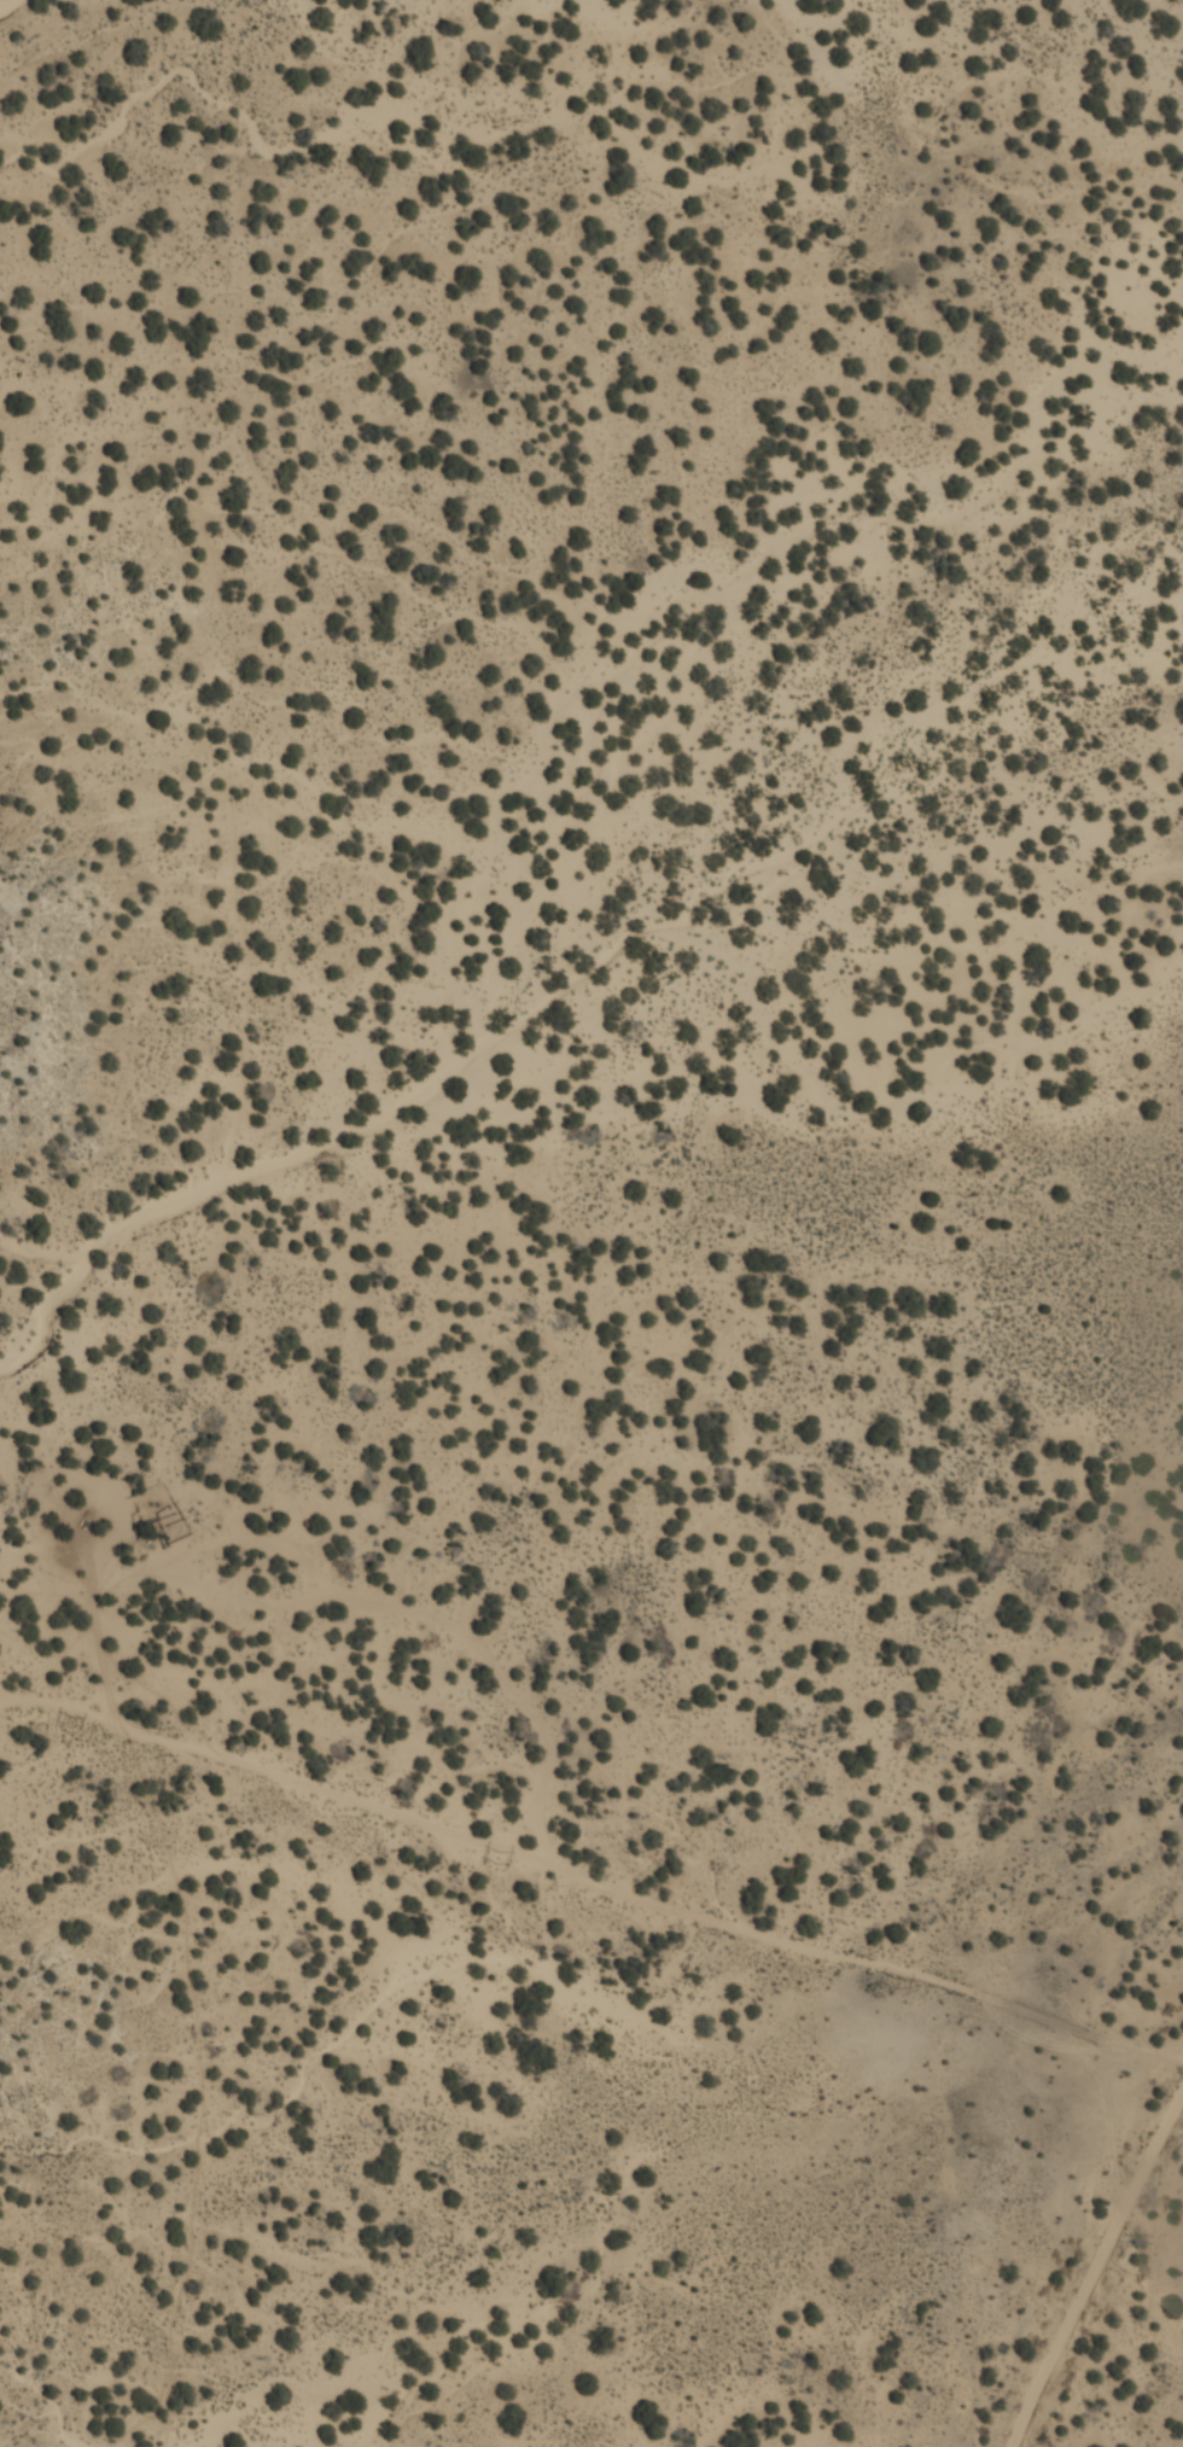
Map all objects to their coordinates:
power tower: (68, 1720)
power tower: (496, 1857)
power tower: (896, 1979)
road: (681, 2086)

